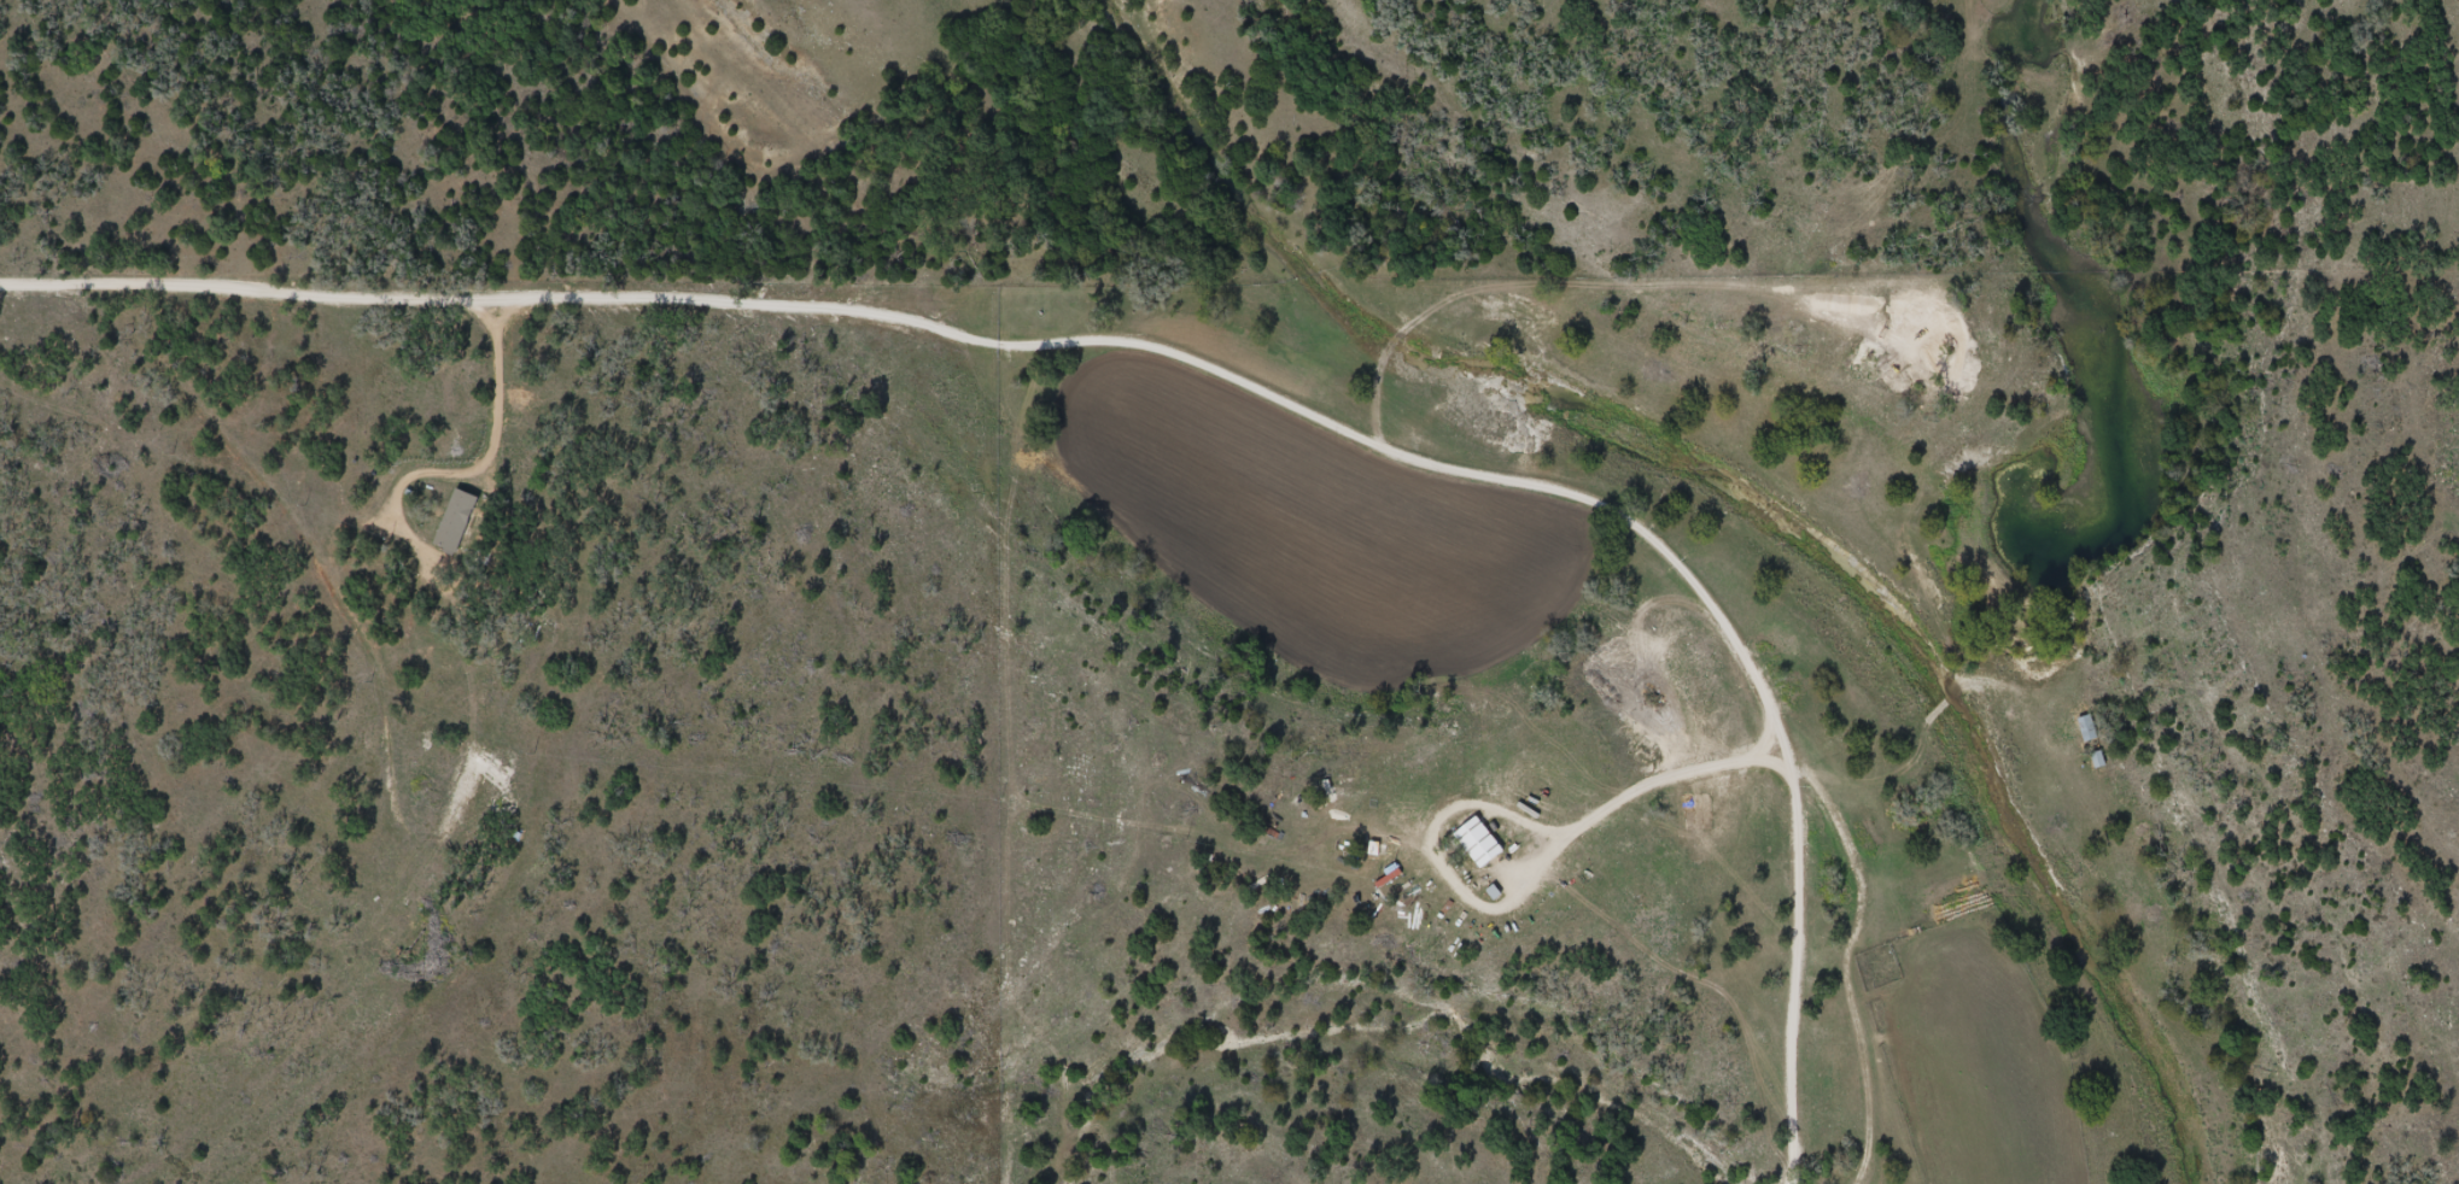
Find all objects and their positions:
road: (446, 352)
building: (455, 522)
building: (2087, 729)
building: (1699, 814)
building: (1479, 843)

